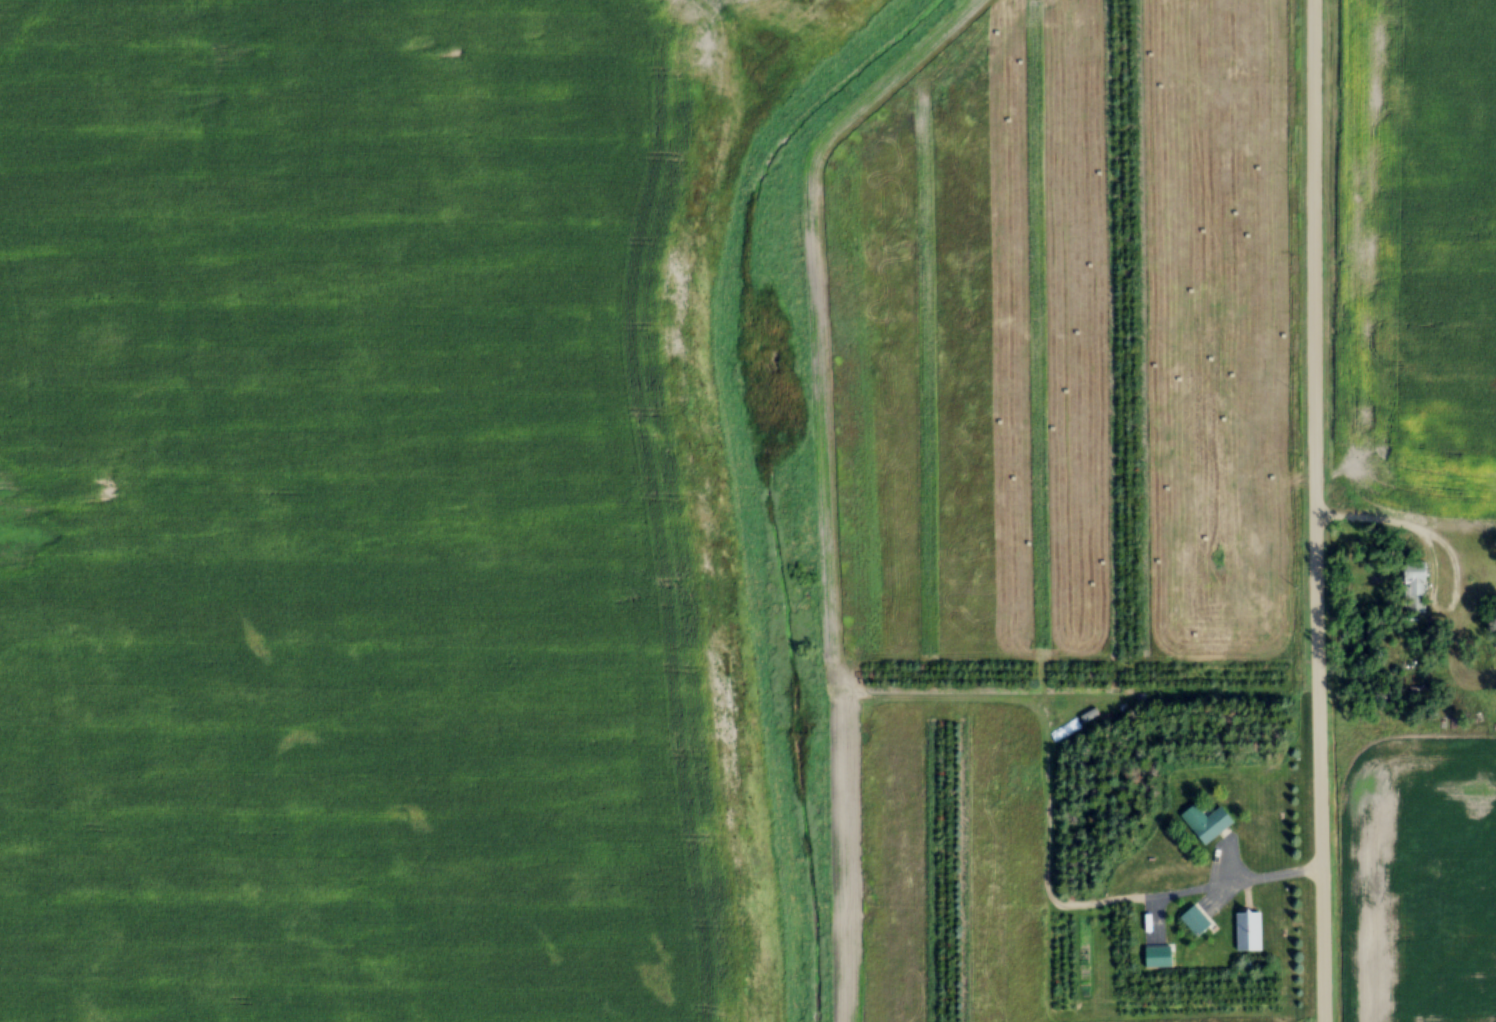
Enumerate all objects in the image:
road: (1313, 511)
road: (1424, 533)
building: (1411, 588)
building: (1085, 716)
building: (1203, 824)
building: (1193, 922)
building: (1157, 958)

